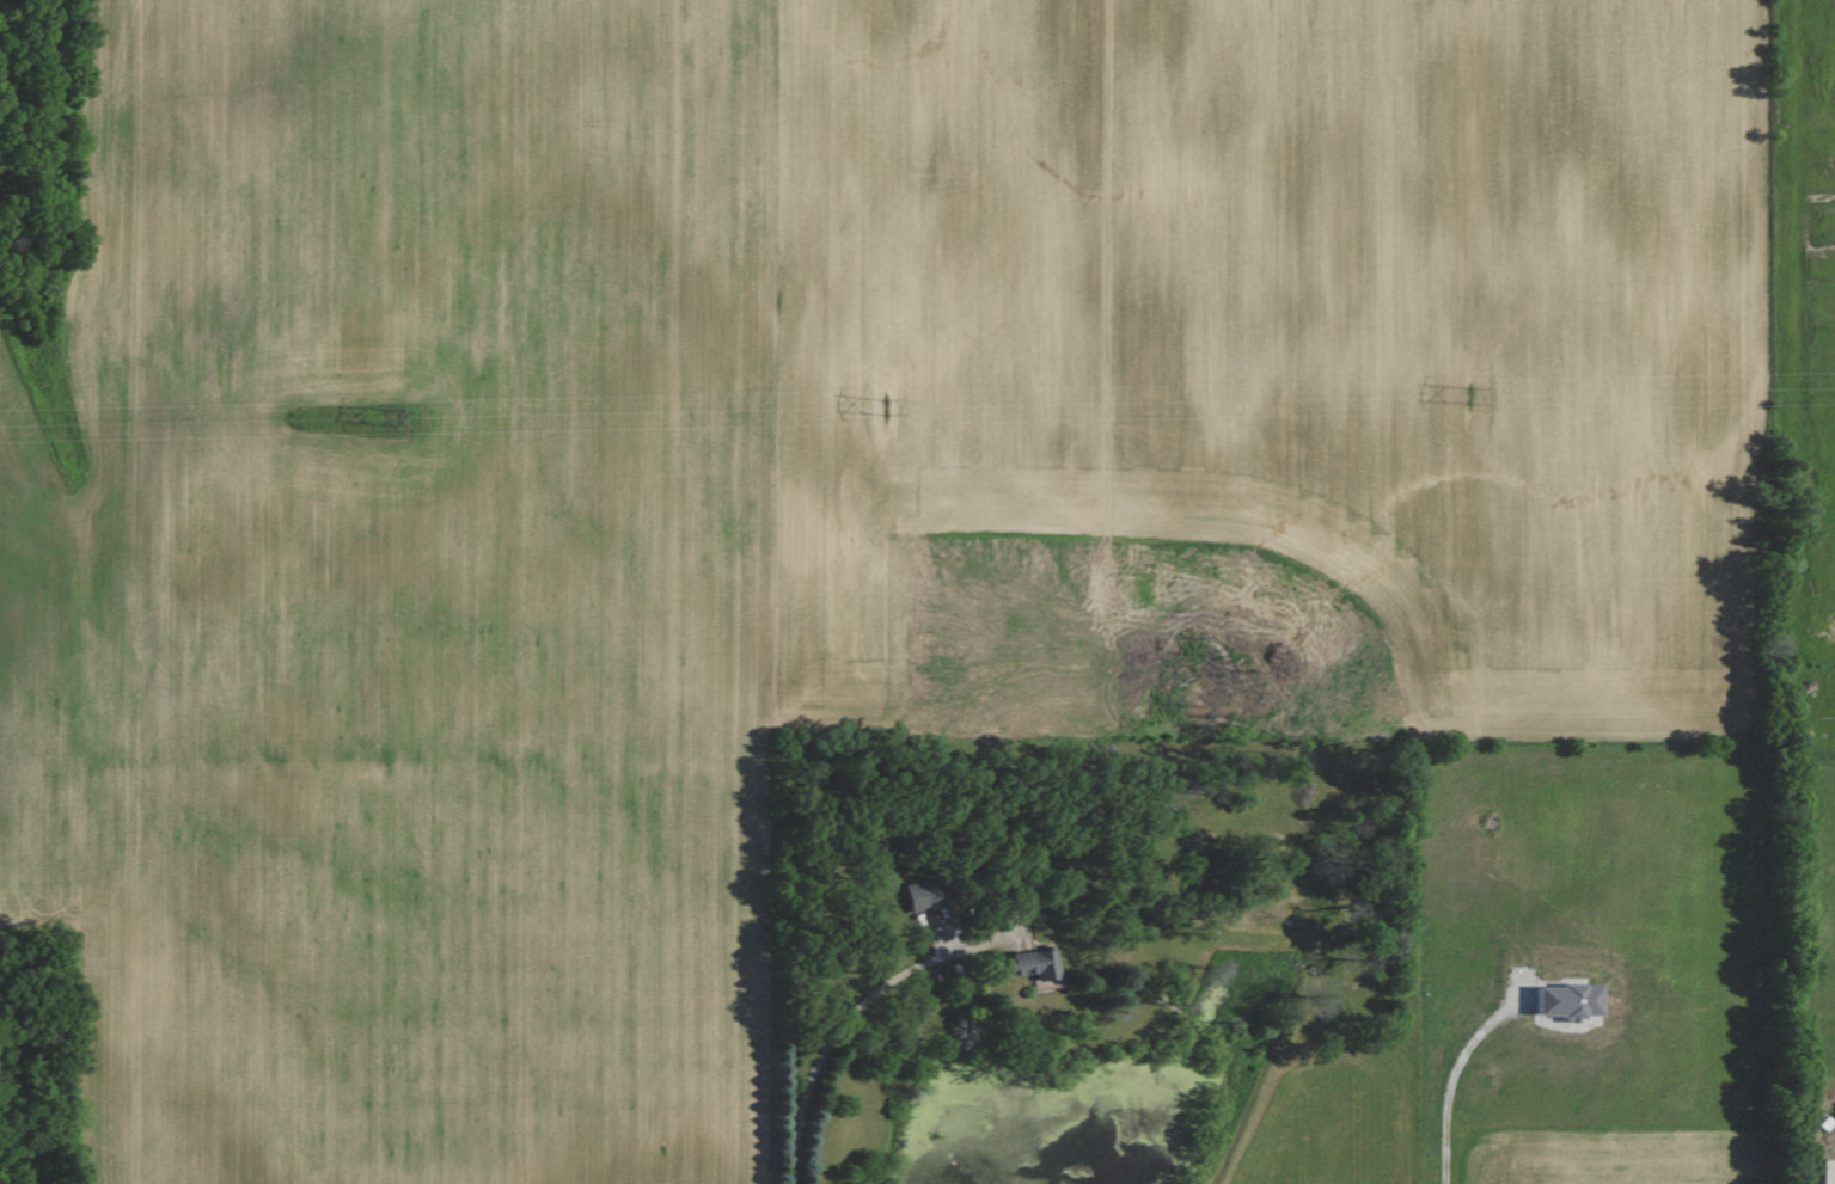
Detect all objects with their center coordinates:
power tower: (1470, 393)
power tower: (886, 405)
power tower: (391, 413)
building: (920, 895)
building: (1028, 964)
building: (1566, 1000)
road: (838, 1031)
road: (1449, 1081)
building: (1827, 1171)

